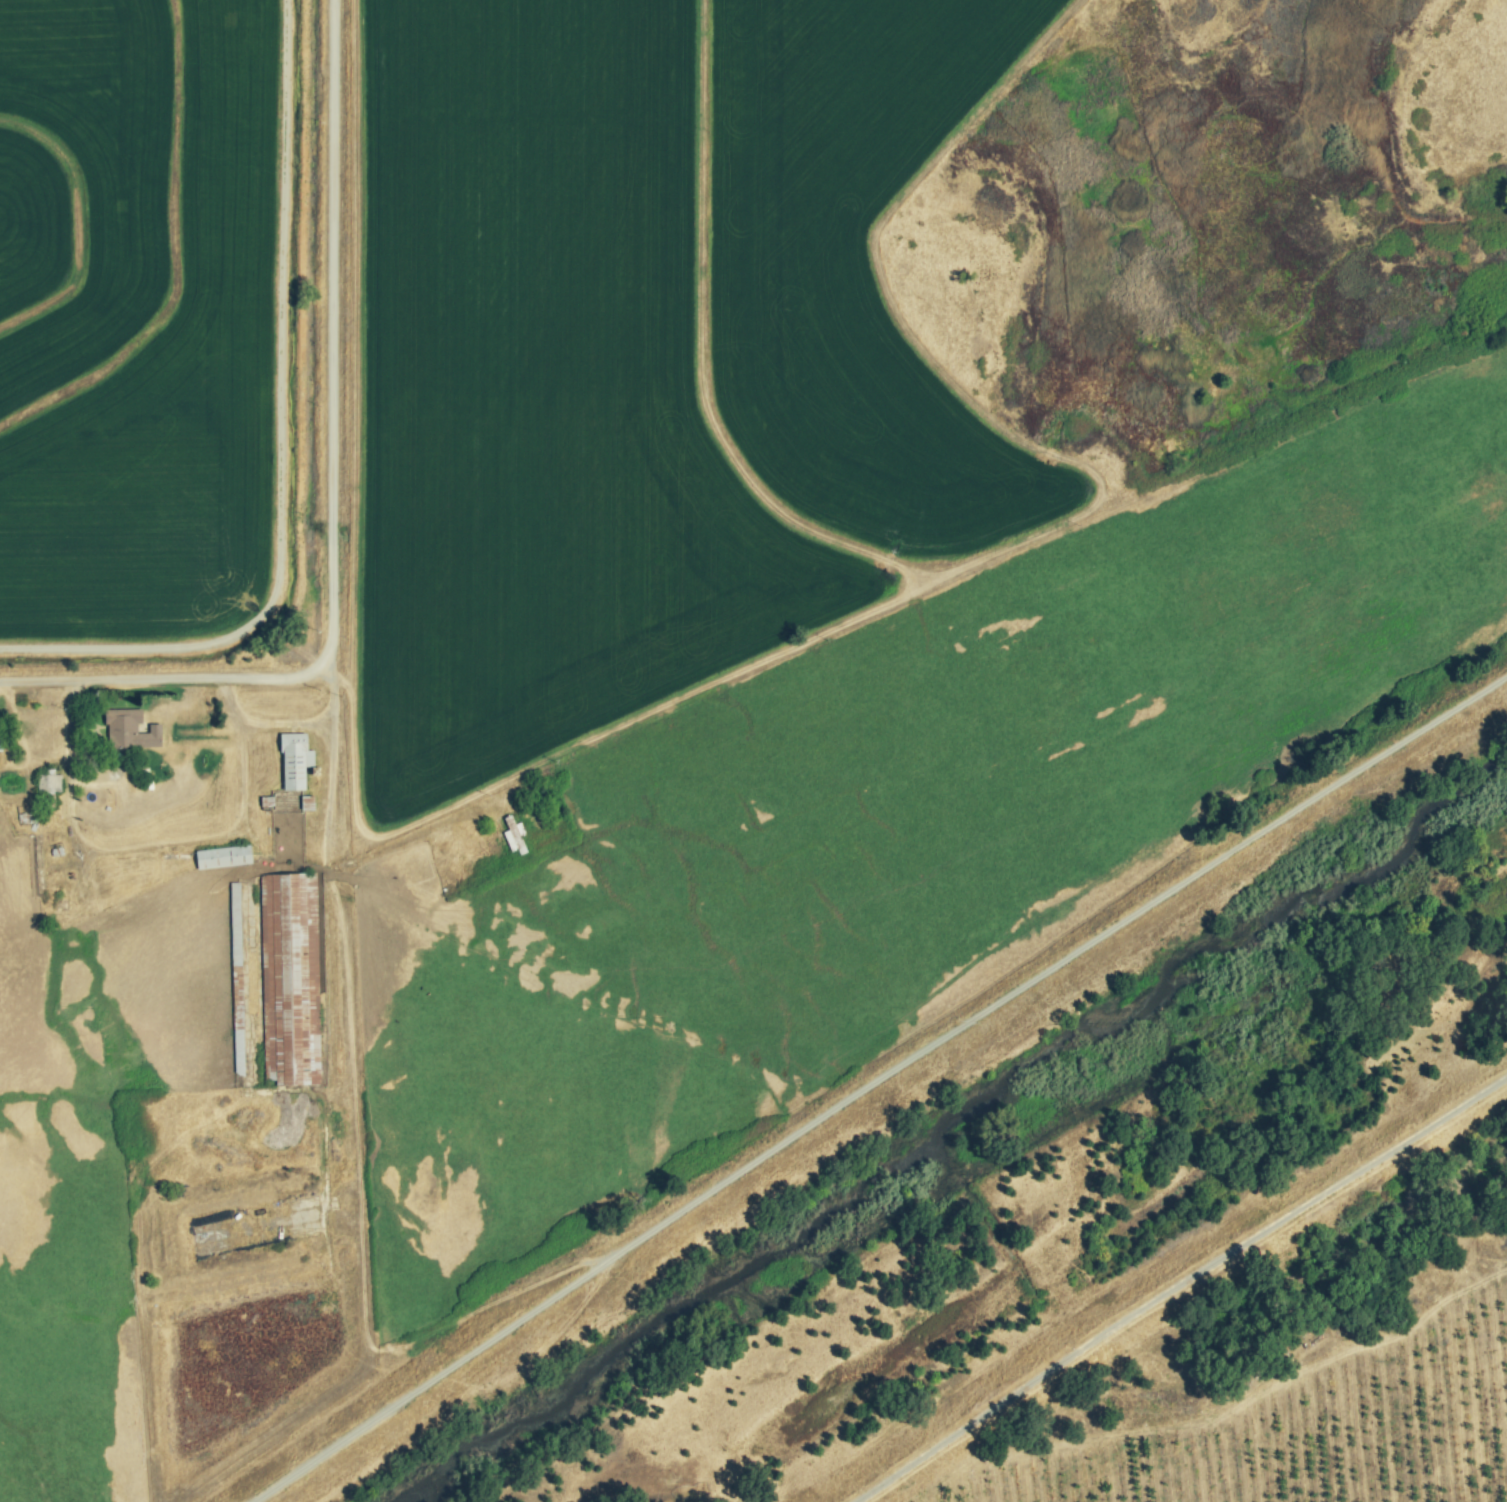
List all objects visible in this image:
road: (330, 493)
road: (285, 726)
building: (131, 730)
road: (239, 750)
building: (297, 761)
building: (50, 783)
building: (225, 857)
road: (342, 932)
building: (291, 978)
road: (1501, 1081)
road: (877, 1084)
road: (1175, 1290)

